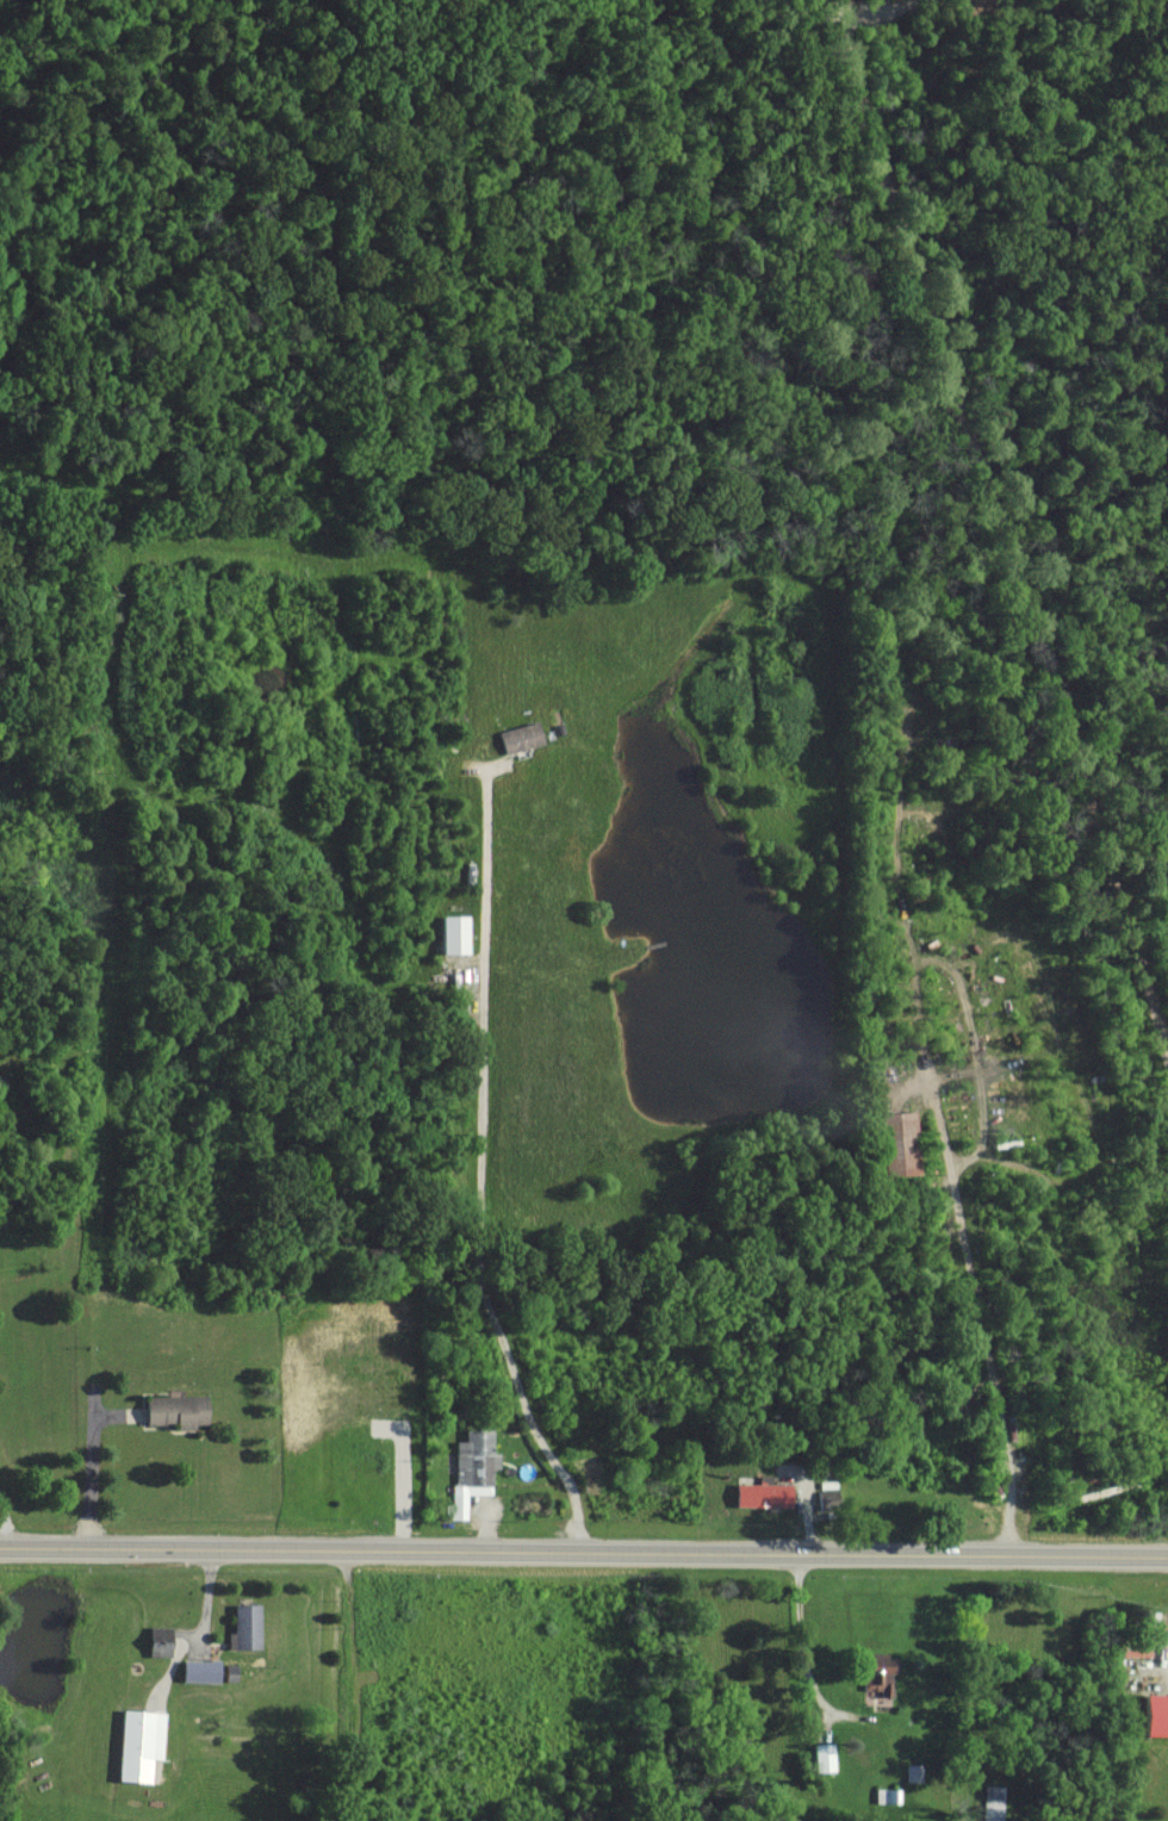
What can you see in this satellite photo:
road: (875, 15)
road: (998, 530)
building: (522, 737)
building: (456, 934)
road: (483, 1168)
road: (981, 1316)
building: (179, 1410)
building: (473, 1468)
road: (91, 1469)
building: (765, 1493)
road: (5, 1523)
road: (583, 1549)
building: (247, 1626)
road: (199, 1628)
building: (162, 1640)
building: (204, 1670)
building: (881, 1674)
building: (1158, 1713)
building: (142, 1744)
building: (826, 1755)
building: (888, 1795)

